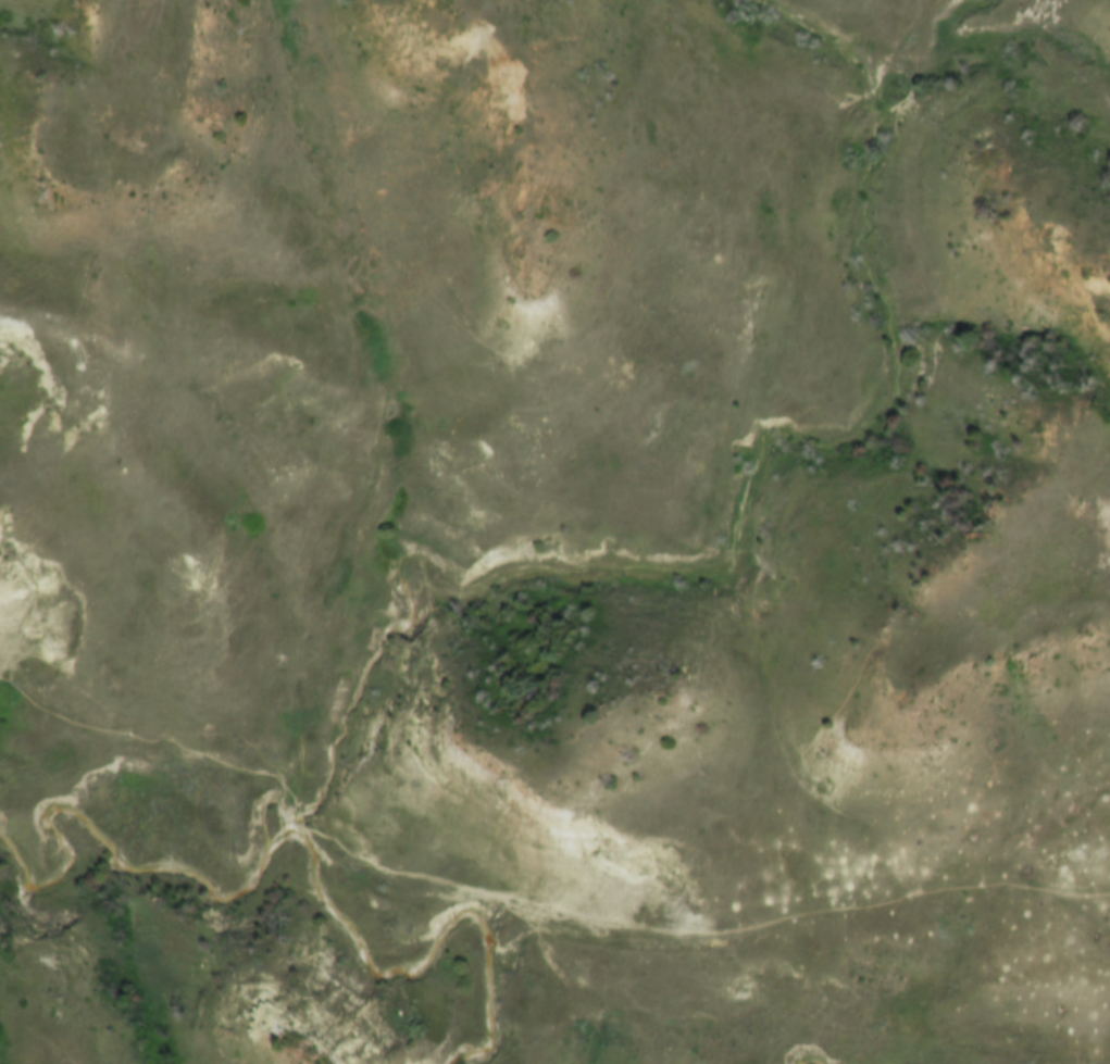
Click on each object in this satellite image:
road: (531, 903)

